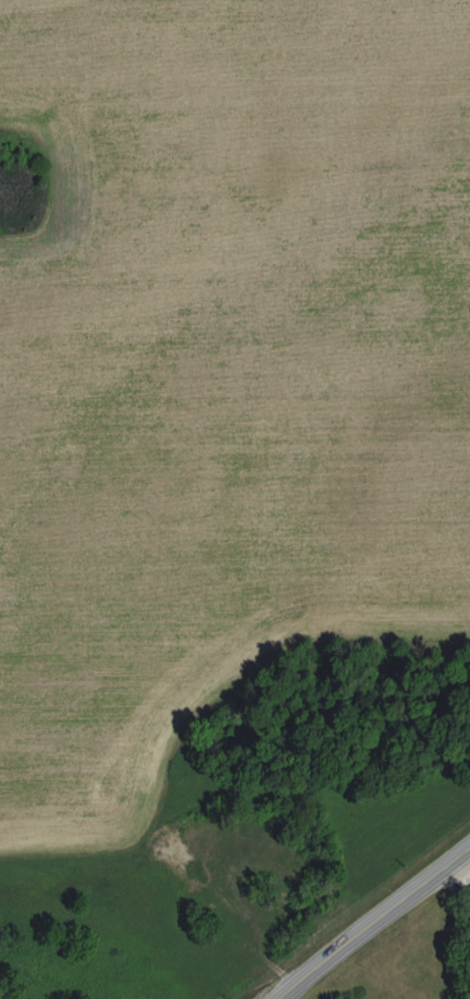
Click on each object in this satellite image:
road: (374, 922)

